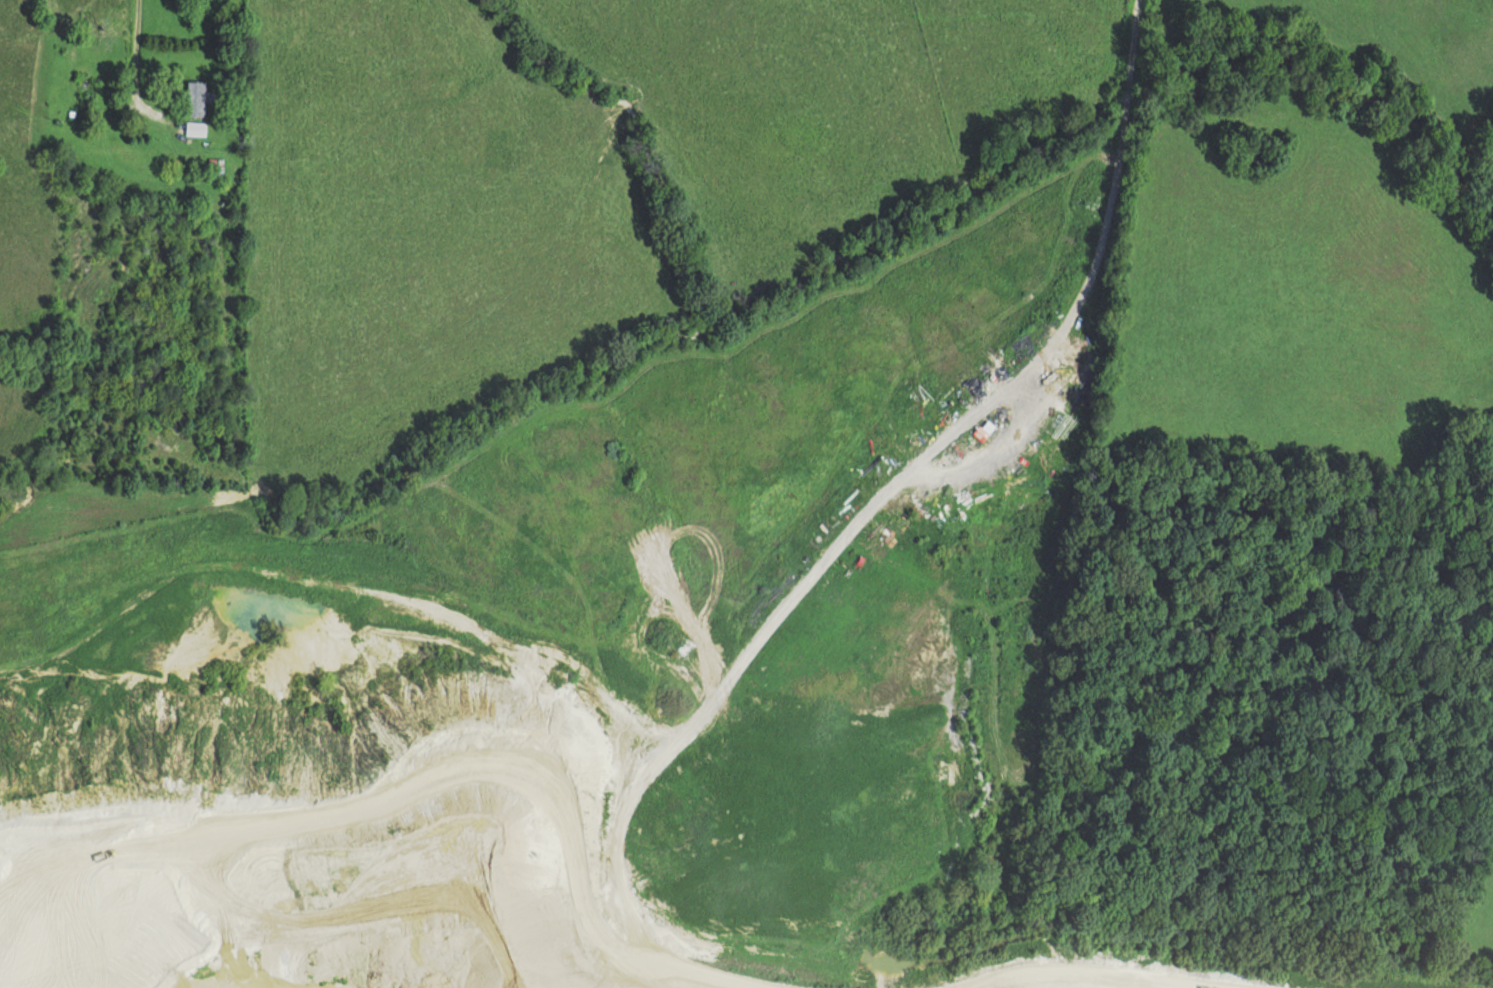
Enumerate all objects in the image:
road: (150, 36)
building: (88, 90)
building: (195, 99)

